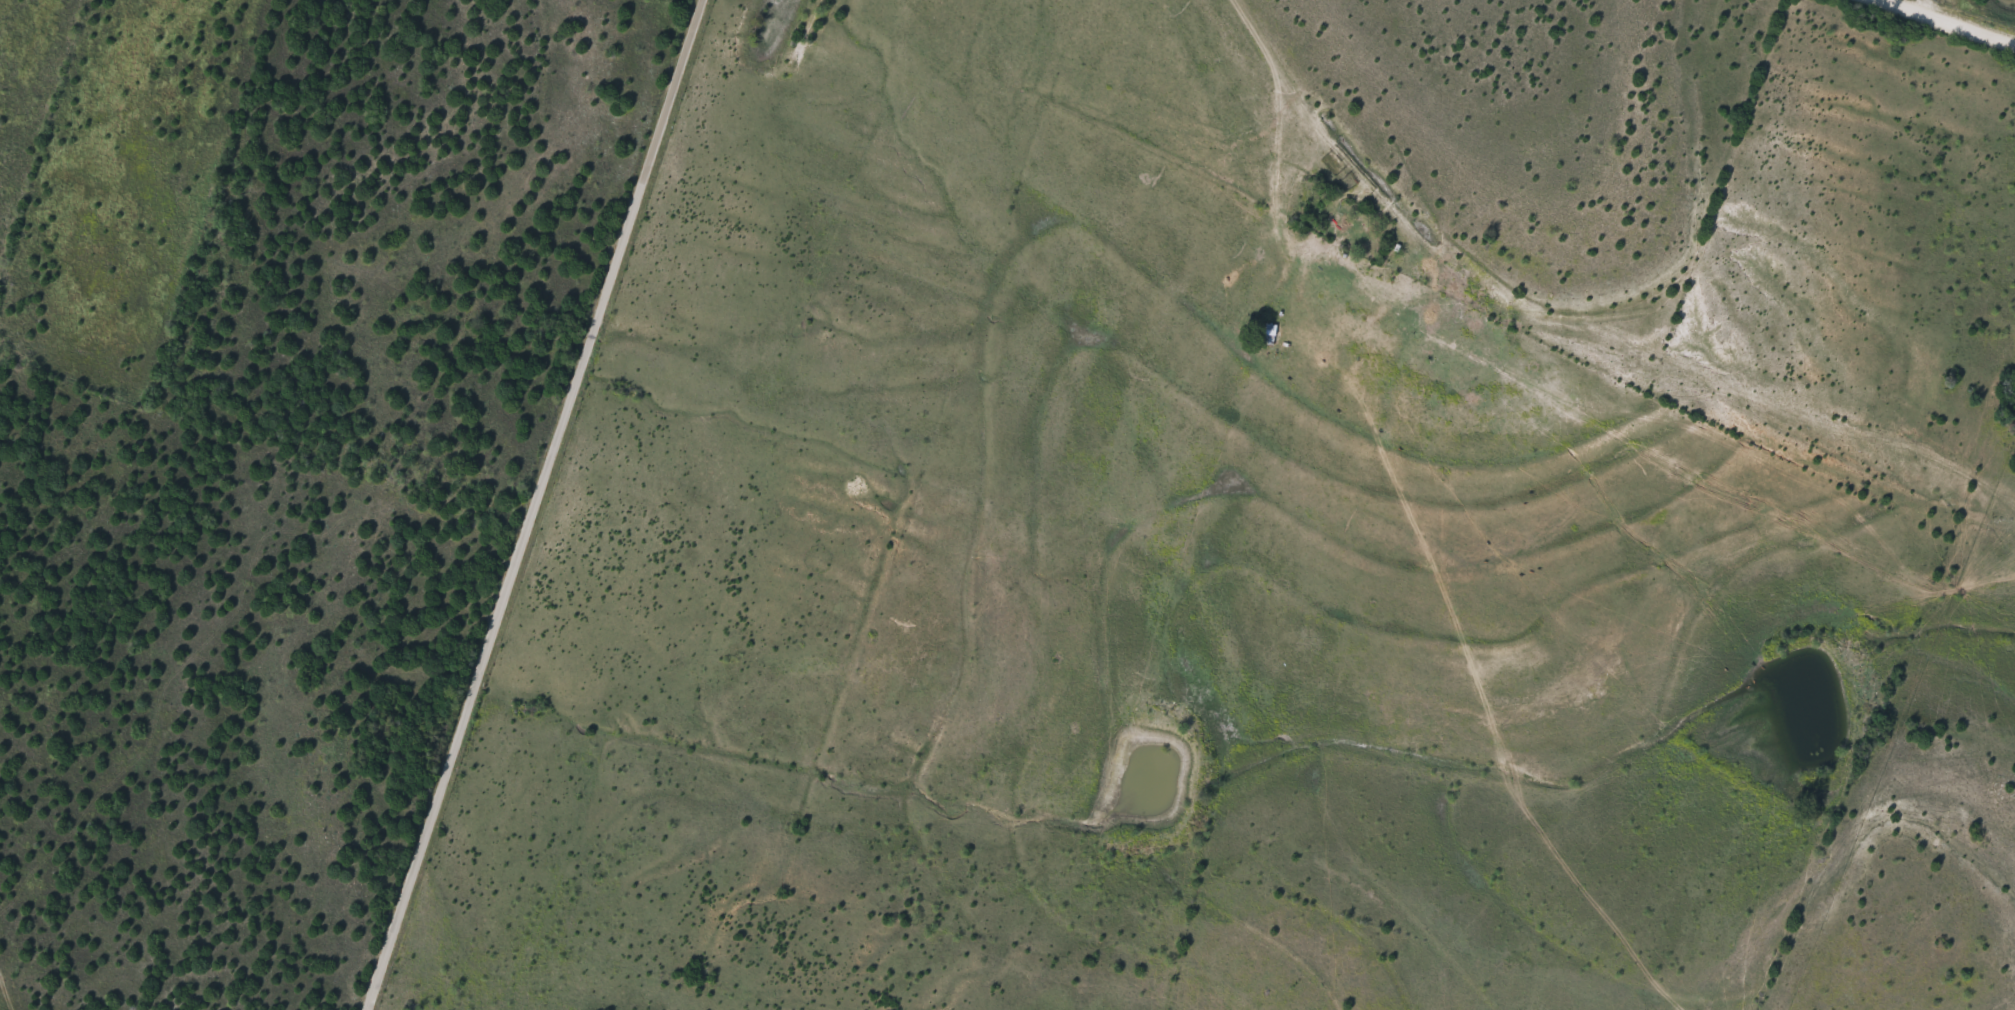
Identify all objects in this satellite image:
building: (1269, 332)
road: (530, 505)

